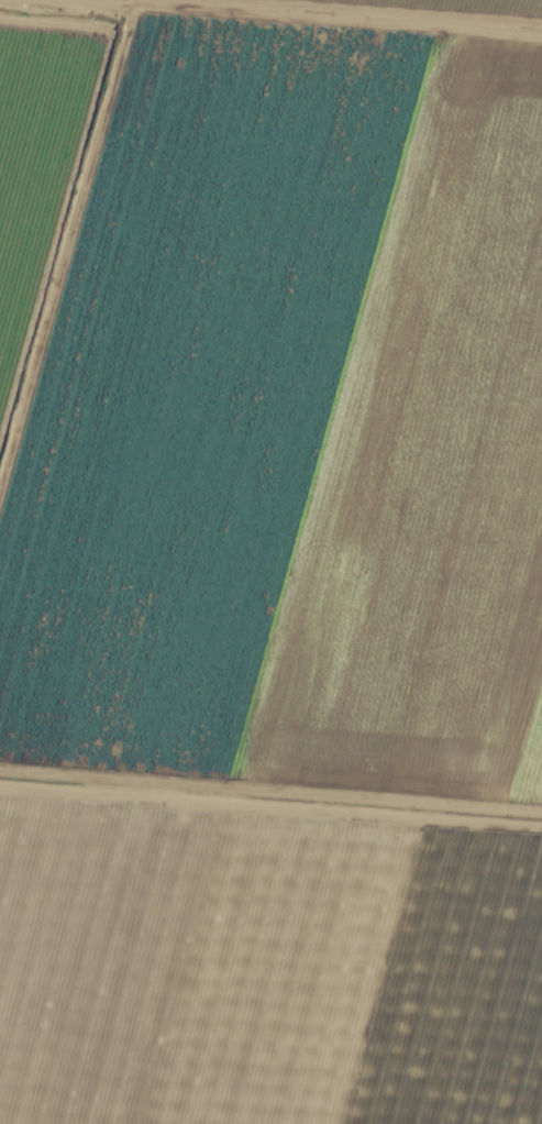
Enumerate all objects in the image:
crop: (270, 562)

